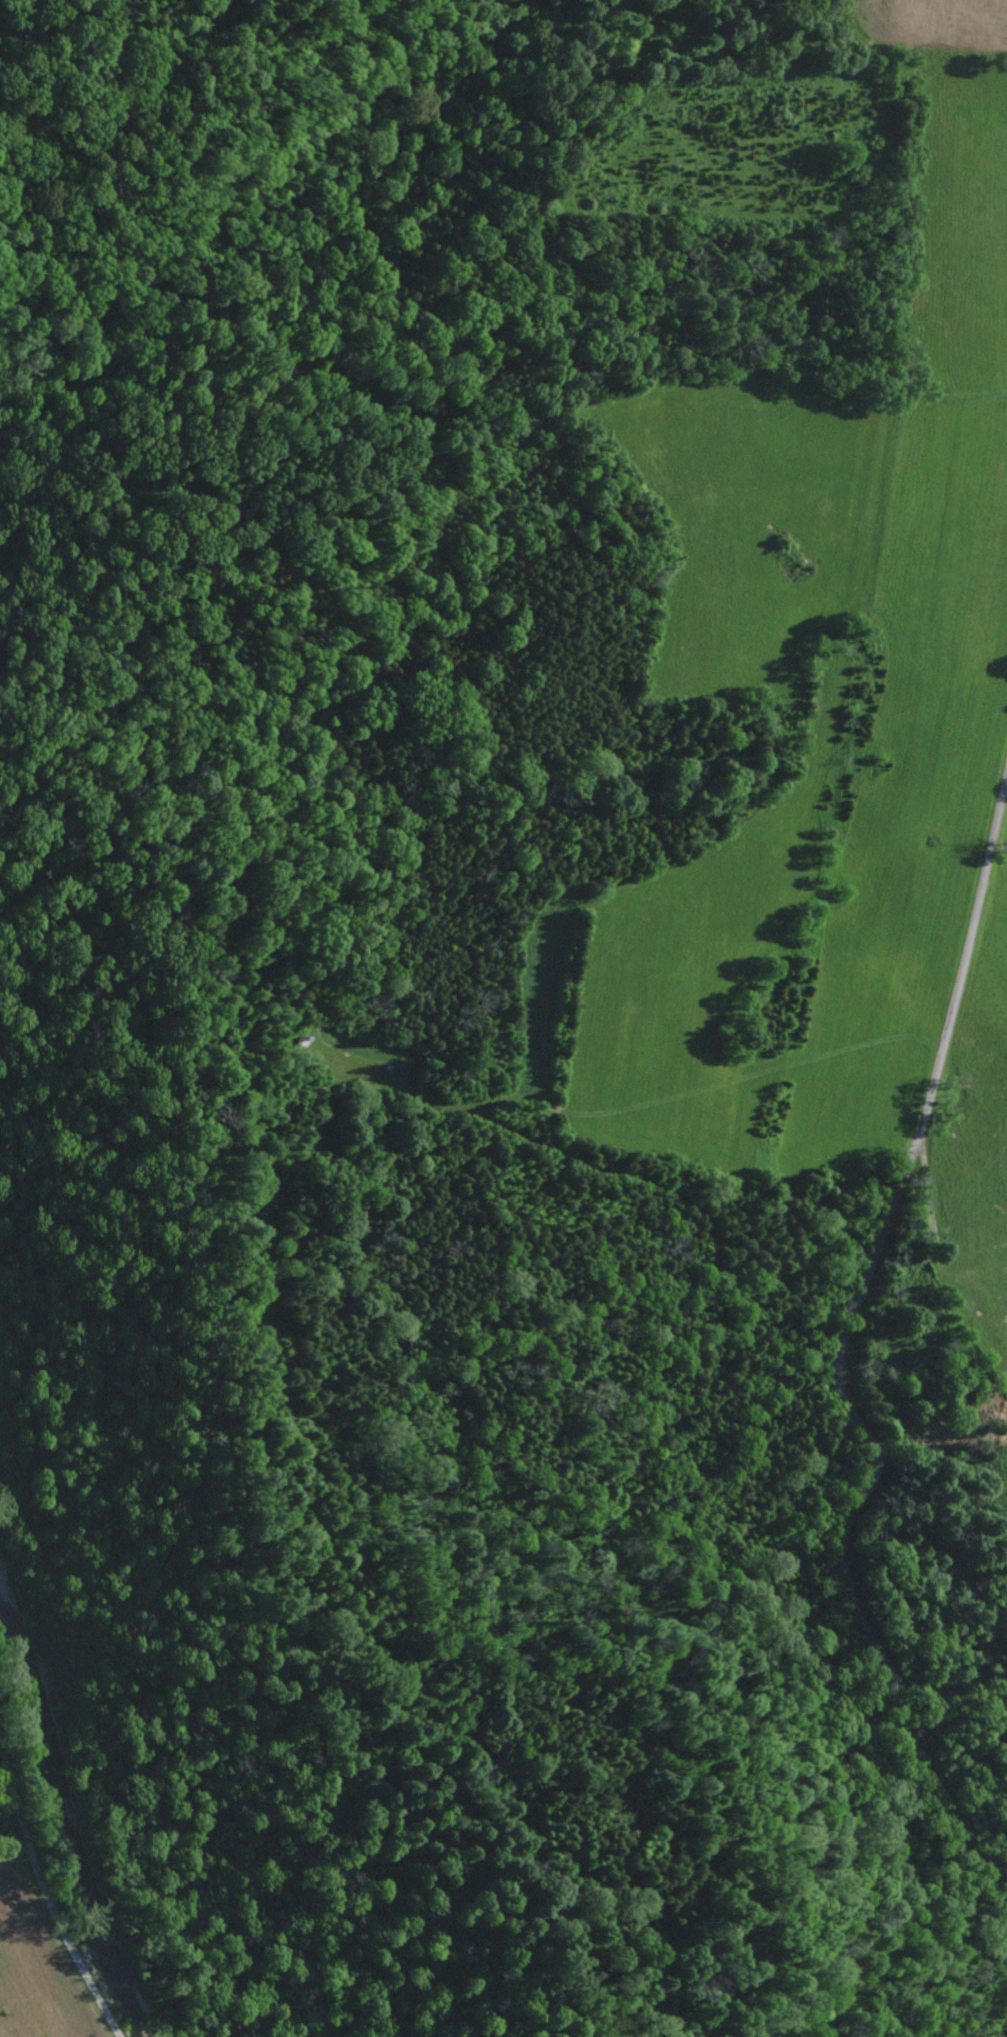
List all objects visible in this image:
crop: (818, 675)
road: (843, 1344)
road: (52, 1897)

